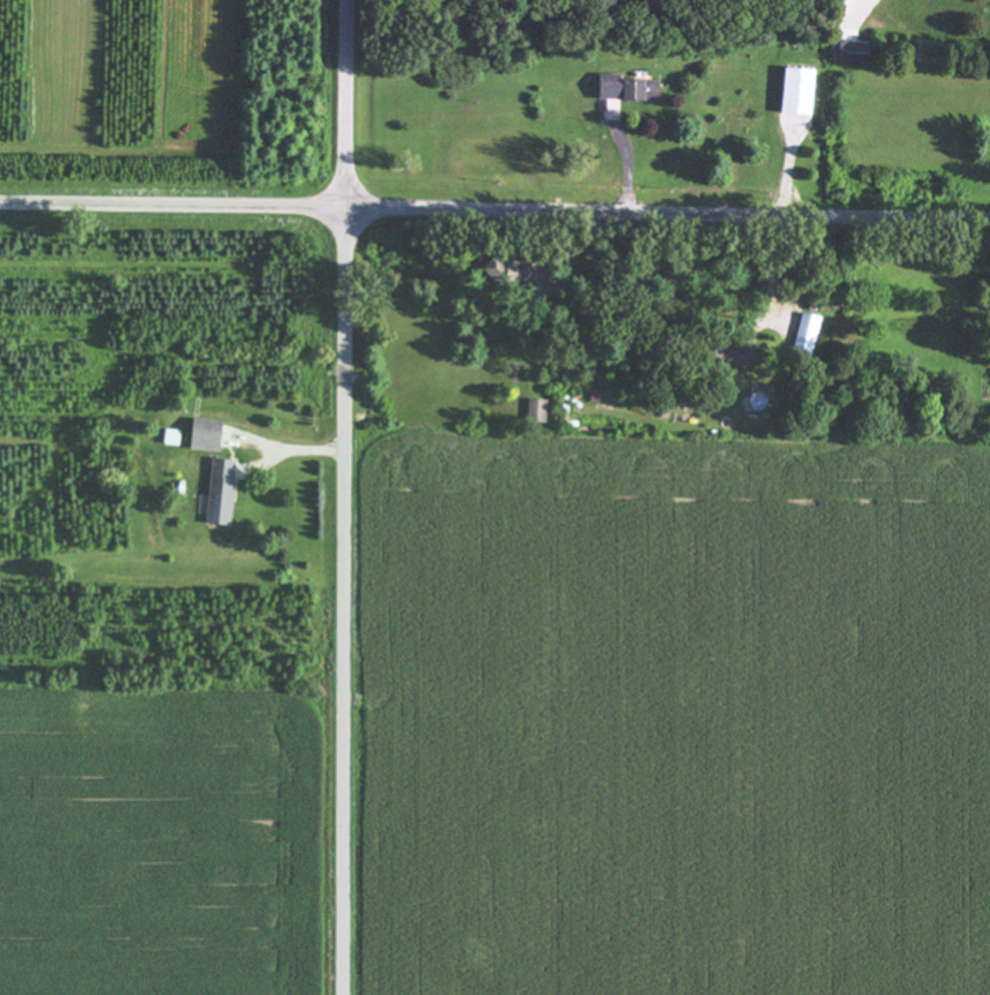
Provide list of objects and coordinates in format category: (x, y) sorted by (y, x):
building: (856, 52)
building: (612, 86)
building: (644, 90)
building: (800, 90)
road: (346, 103)
road: (632, 169)
road: (791, 175)
road: (173, 205)
road: (667, 214)
building: (515, 272)
building: (808, 333)
building: (743, 353)
building: (538, 409)
building: (209, 435)
road: (310, 450)
building: (223, 491)
road: (347, 600)

